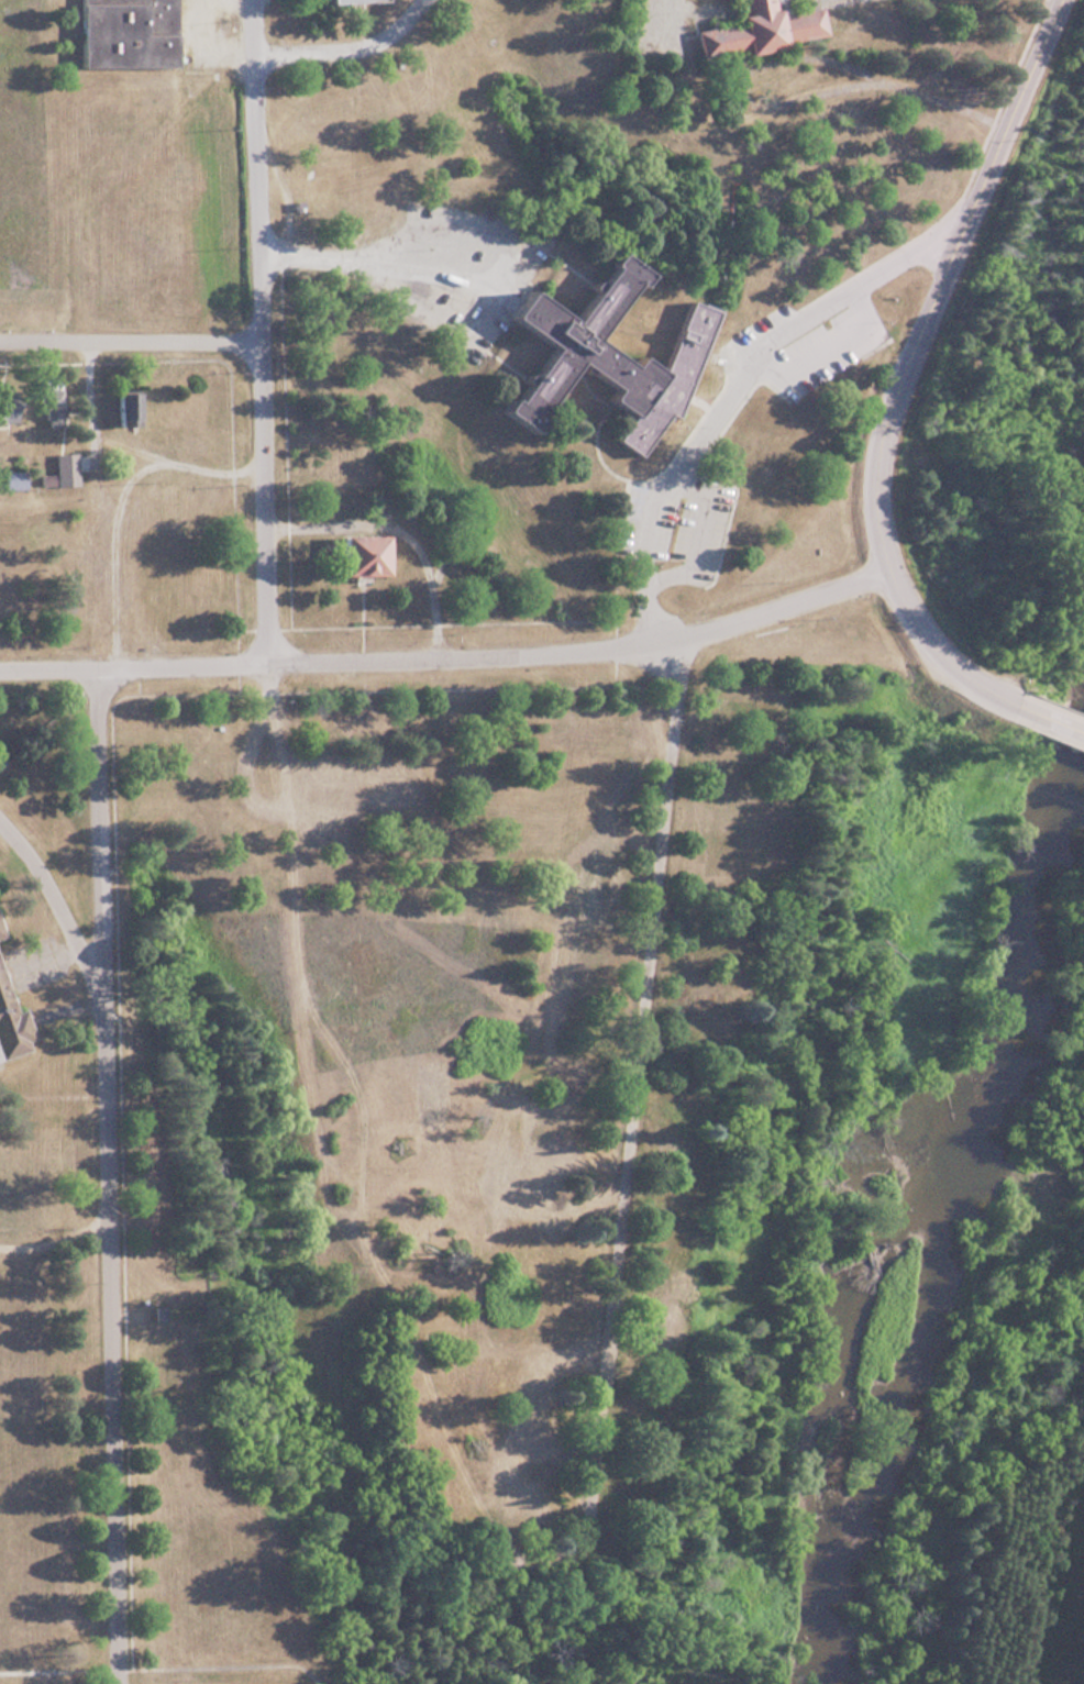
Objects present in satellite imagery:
building: (341, 0)
building: (121, 32)
road: (343, 47)
road: (380, 263)
road: (257, 331)
road: (129, 339)
building: (601, 355)
road: (904, 365)
road: (723, 388)
building: (46, 401)
building: (119, 407)
building: (5, 411)
building: (62, 468)
building: (10, 478)
building: (155, 498)
road: (95, 505)
building: (353, 553)
road: (449, 655)
road: (1046, 718)
building: (364, 777)
building: (583, 889)
road: (54, 904)
building: (574, 970)
building: (10, 1028)
building: (563, 1081)
road: (631, 1089)
road: (104, 1175)
building: (486, 1183)
river: (891, 1218)
building: (655, 1325)
building: (531, 1408)
building: (524, 1515)

